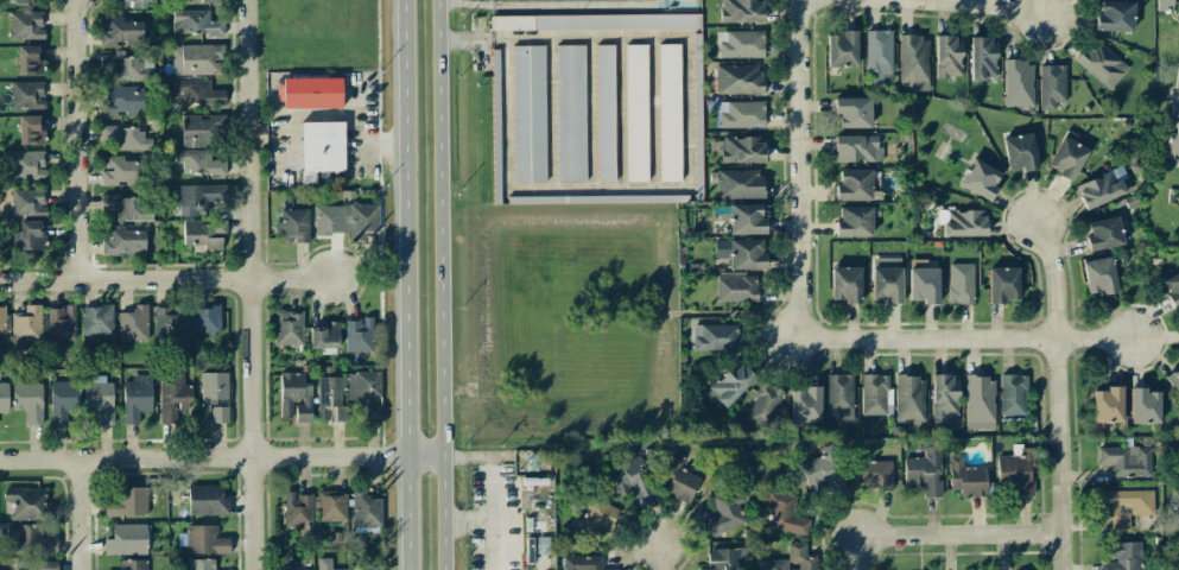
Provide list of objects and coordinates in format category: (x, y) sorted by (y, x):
building: (15, 1)
building: (210, 1)
building: (139, 4)
road: (540, 4)
road: (920, 5)
building: (1164, 5)
building: (742, 11)
building: (1115, 17)
building: (595, 21)
building: (195, 23)
building: (26, 24)
building: (120, 31)
building: (741, 44)
building: (842, 50)
building: (879, 56)
building: (947, 56)
building: (982, 58)
building: (27, 59)
building: (197, 59)
building: (1101, 63)
building: (120, 65)
building: (739, 78)
building: (1177, 80)
building: (1018, 83)
building: (1051, 85)
building: (197, 91)
building: (311, 93)
building: (26, 95)
road: (1177, 95)
building: (121, 100)
building: (668, 112)
building: (852, 112)
building: (570, 113)
building: (604, 113)
building: (636, 113)
building: (528, 114)
building: (742, 114)
road: (353, 129)
building: (31, 131)
building: (196, 131)
building: (126, 138)
road: (78, 140)
building: (321, 147)
building: (741, 148)
building: (856, 148)
road: (685, 151)
building: (1020, 152)
building: (1067, 156)
building: (198, 161)
building: (25, 165)
building: (120, 170)
road: (798, 170)
building: (980, 178)
building: (737, 183)
building: (852, 185)
building: (1101, 189)
building: (197, 197)
building: (27, 202)
building: (128, 207)
building: (746, 218)
building: (347, 220)
building: (854, 221)
building: (962, 222)
building: (293, 226)
building: (1103, 234)
building: (30, 236)
building: (123, 240)
building: (1099, 275)
road: (165, 279)
building: (886, 279)
road: (1053, 279)
building: (923, 281)
building: (961, 283)
road: (439, 284)
building: (845, 284)
building: (1003, 284)
road: (251, 285)
road: (401, 285)
building: (736, 287)
building: (97, 319)
building: (204, 319)
building: (2, 321)
building: (169, 322)
building: (28, 323)
building: (61, 323)
building: (133, 323)
building: (287, 328)
building: (357, 335)
building: (325, 336)
building: (715, 337)
road: (966, 341)
building: (1173, 378)
building: (730, 385)
building: (362, 387)
building: (213, 388)
building: (172, 394)
building: (875, 394)
building: (944, 394)
building: (1013, 394)
building: (294, 395)
building: (4, 397)
building: (137, 397)
building: (839, 397)
building: (329, 398)
building: (63, 399)
building: (909, 399)
building: (99, 400)
building: (28, 401)
building: (980, 403)
building: (765, 404)
building: (805, 405)
building: (1108, 405)
building: (1143, 406)
building: (220, 411)
building: (373, 412)
road: (1057, 455)
road: (220, 457)
building: (1127, 460)
building: (823, 470)
building: (1016, 470)
building: (870, 471)
building: (924, 471)
building: (628, 476)
building: (968, 479)
building: (678, 480)
building: (207, 500)
building: (125, 501)
building: (26, 502)
building: (1174, 505)
building: (331, 506)
building: (1124, 507)
building: (366, 511)
building: (298, 512)
building: (784, 513)
road: (81, 514)
building: (723, 514)
building: (594, 519)
road: (476, 522)
road: (949, 534)
building: (126, 539)
building: (203, 540)
building: (32, 547)
road: (658, 556)
building: (1124, 556)
building: (722, 559)
building: (793, 559)
building: (1174, 562)
building: (582, 563)
building: (133, 564)
building: (201, 564)
building: (325, 564)
building: (368, 568)

